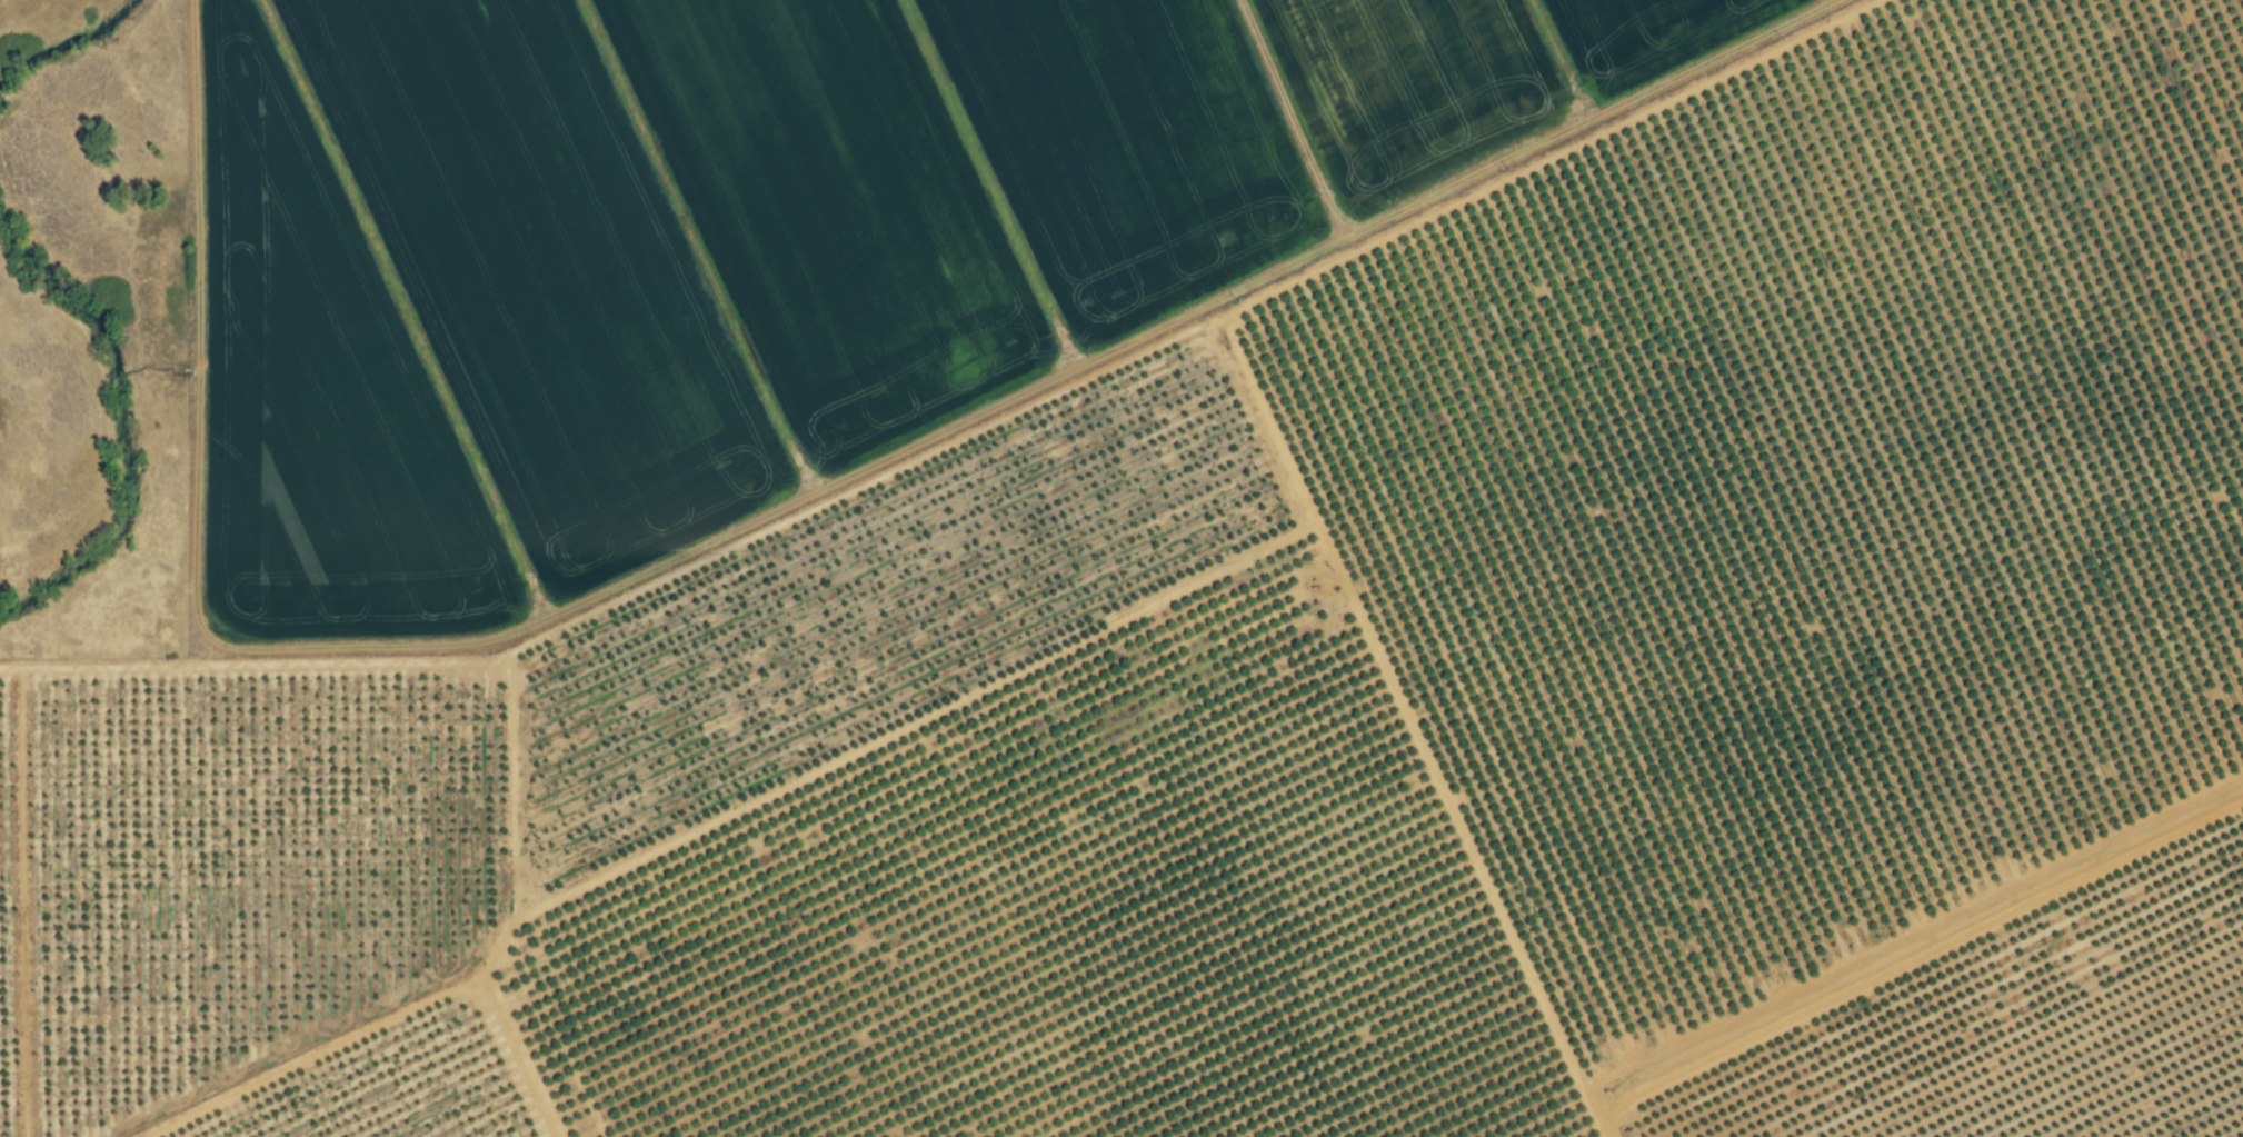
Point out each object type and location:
road: (1115, 327)
road: (847, 702)
road: (1345, 737)
road: (459, 834)
road: (1892, 951)
road: (441, 1011)

